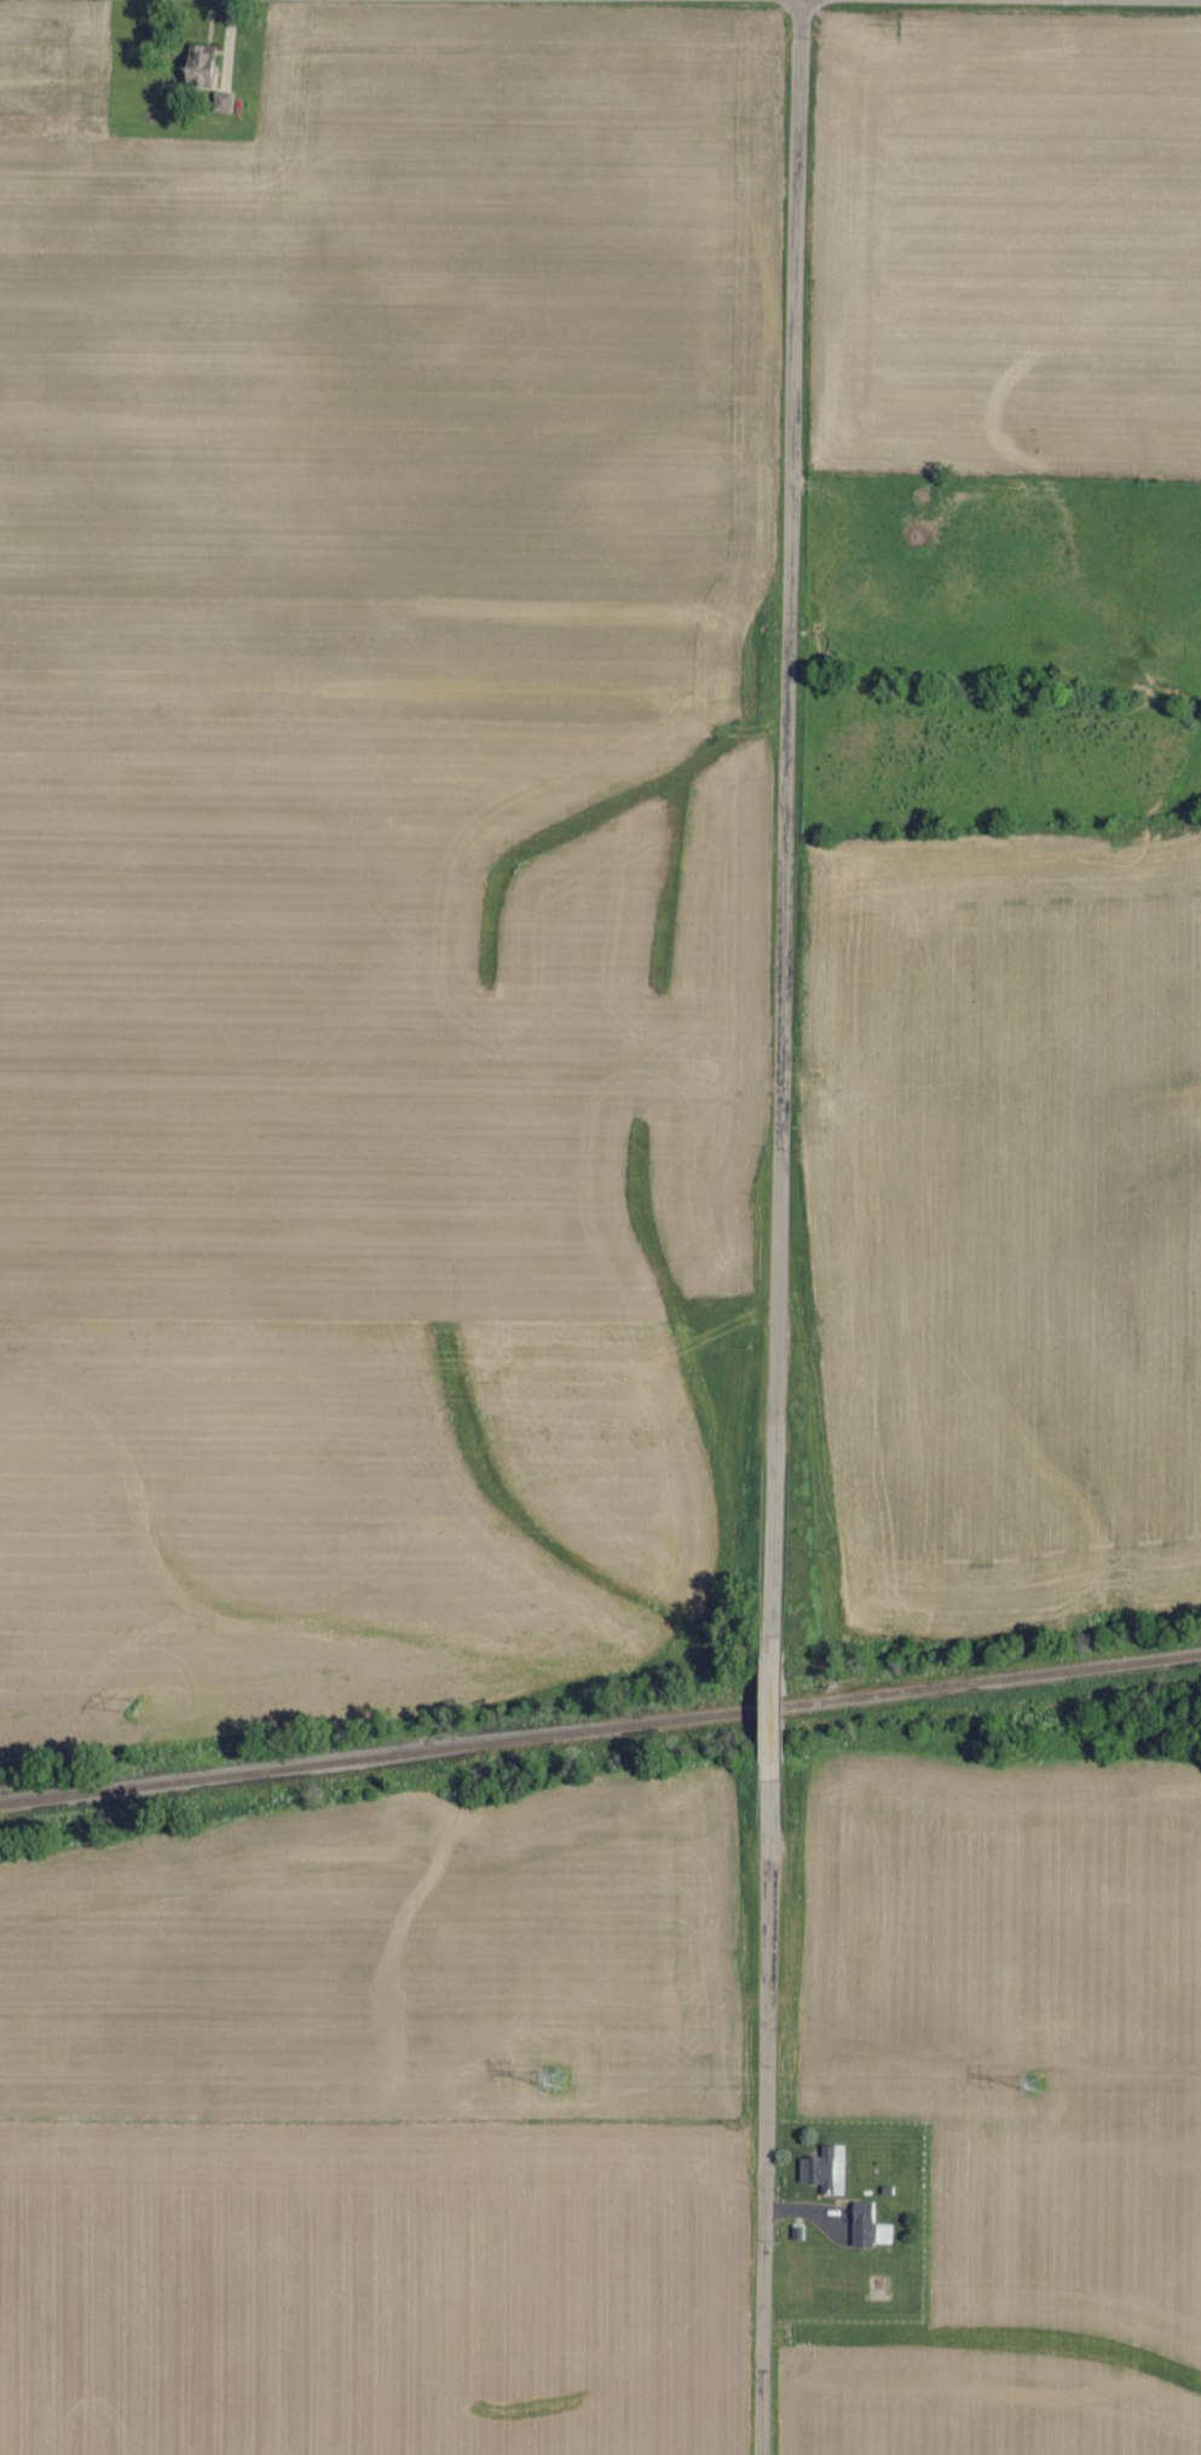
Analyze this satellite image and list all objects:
building: (198, 59)
building: (220, 102)
road: (795, 826)
power tower: (139, 1702)
road: (776, 1717)
railway: (600, 1728)
power tower: (555, 2079)
power tower: (1035, 2084)
road: (769, 2117)
building: (825, 2169)
building: (862, 2224)
building: (883, 2234)

